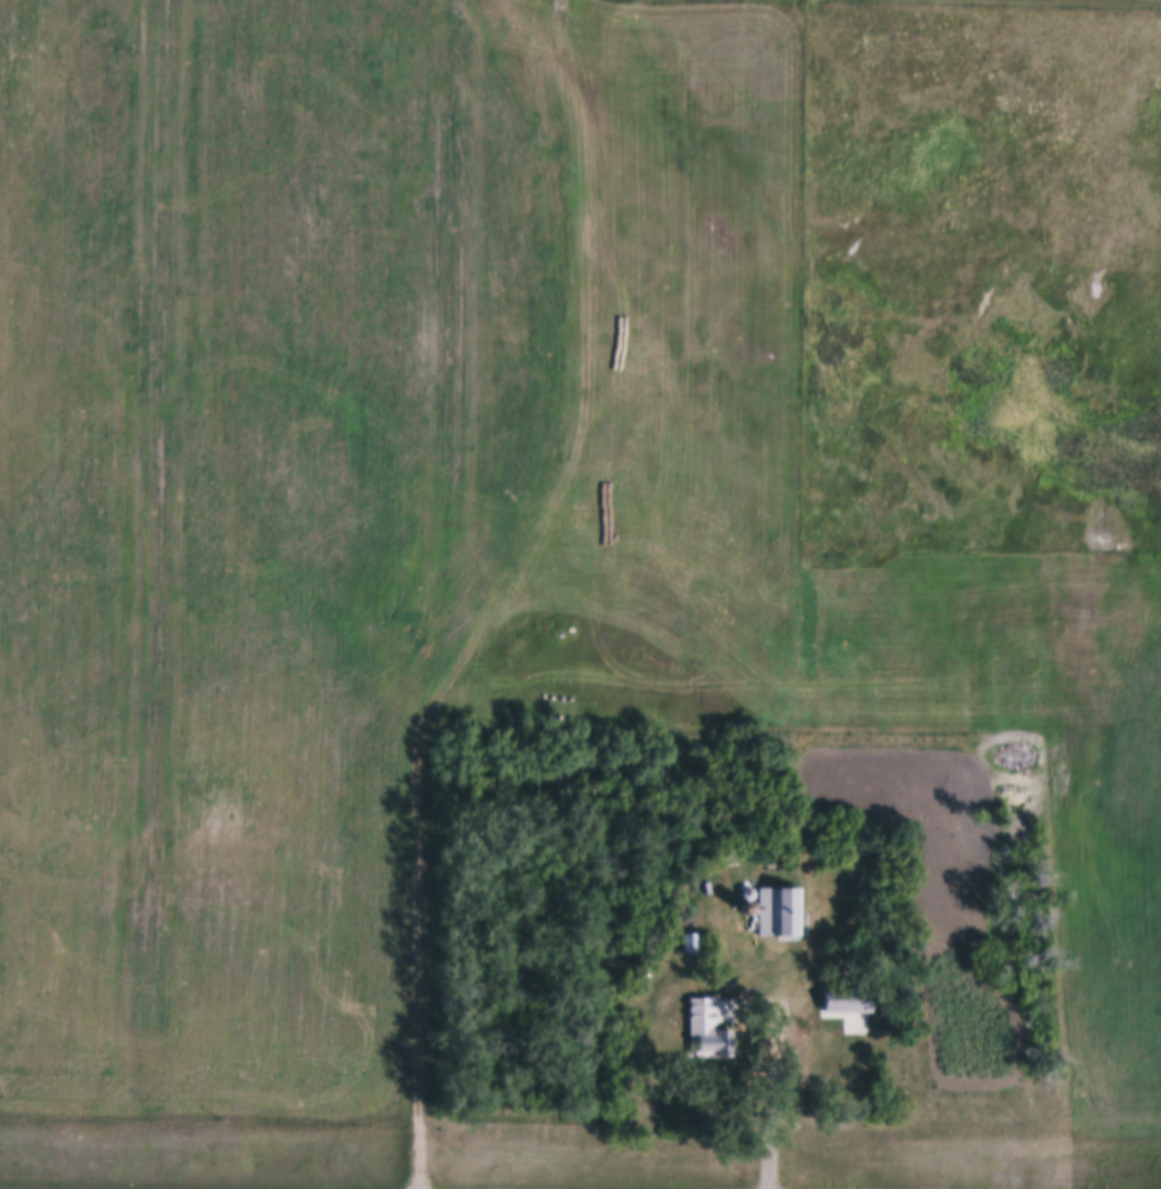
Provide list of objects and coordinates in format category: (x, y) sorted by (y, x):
building: (780, 912)
building: (846, 998)
road: (778, 1092)

